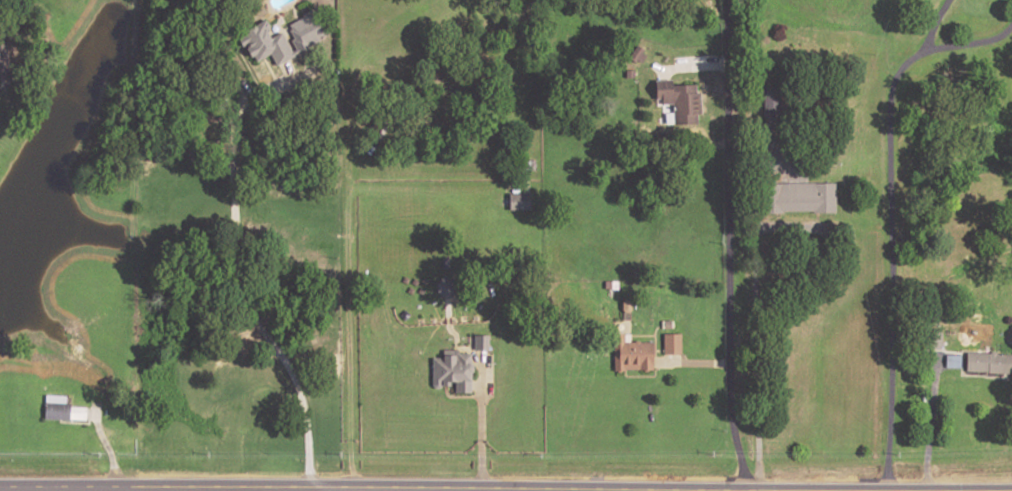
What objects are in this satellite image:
building: (257, 39)
building: (635, 54)
road: (690, 66)
building: (628, 74)
building: (677, 100)
building: (769, 102)
building: (527, 165)
building: (797, 198)
building: (517, 202)
road: (890, 214)
road: (727, 245)
road: (232, 263)
road: (346, 279)
building: (444, 287)
road: (447, 324)
building: (664, 324)
road: (755, 328)
building: (930, 340)
building: (479, 343)
building: (670, 343)
building: (629, 354)
building: (950, 361)
road: (691, 363)
building: (987, 363)
building: (450, 372)
road: (973, 375)
road: (644, 376)
road: (458, 396)
building: (60, 409)
road: (480, 420)
road: (928, 426)
road: (104, 445)
road: (506, 488)
road: (340, 489)
road: (409, 489)
road: (508, 489)
road: (593, 490)

